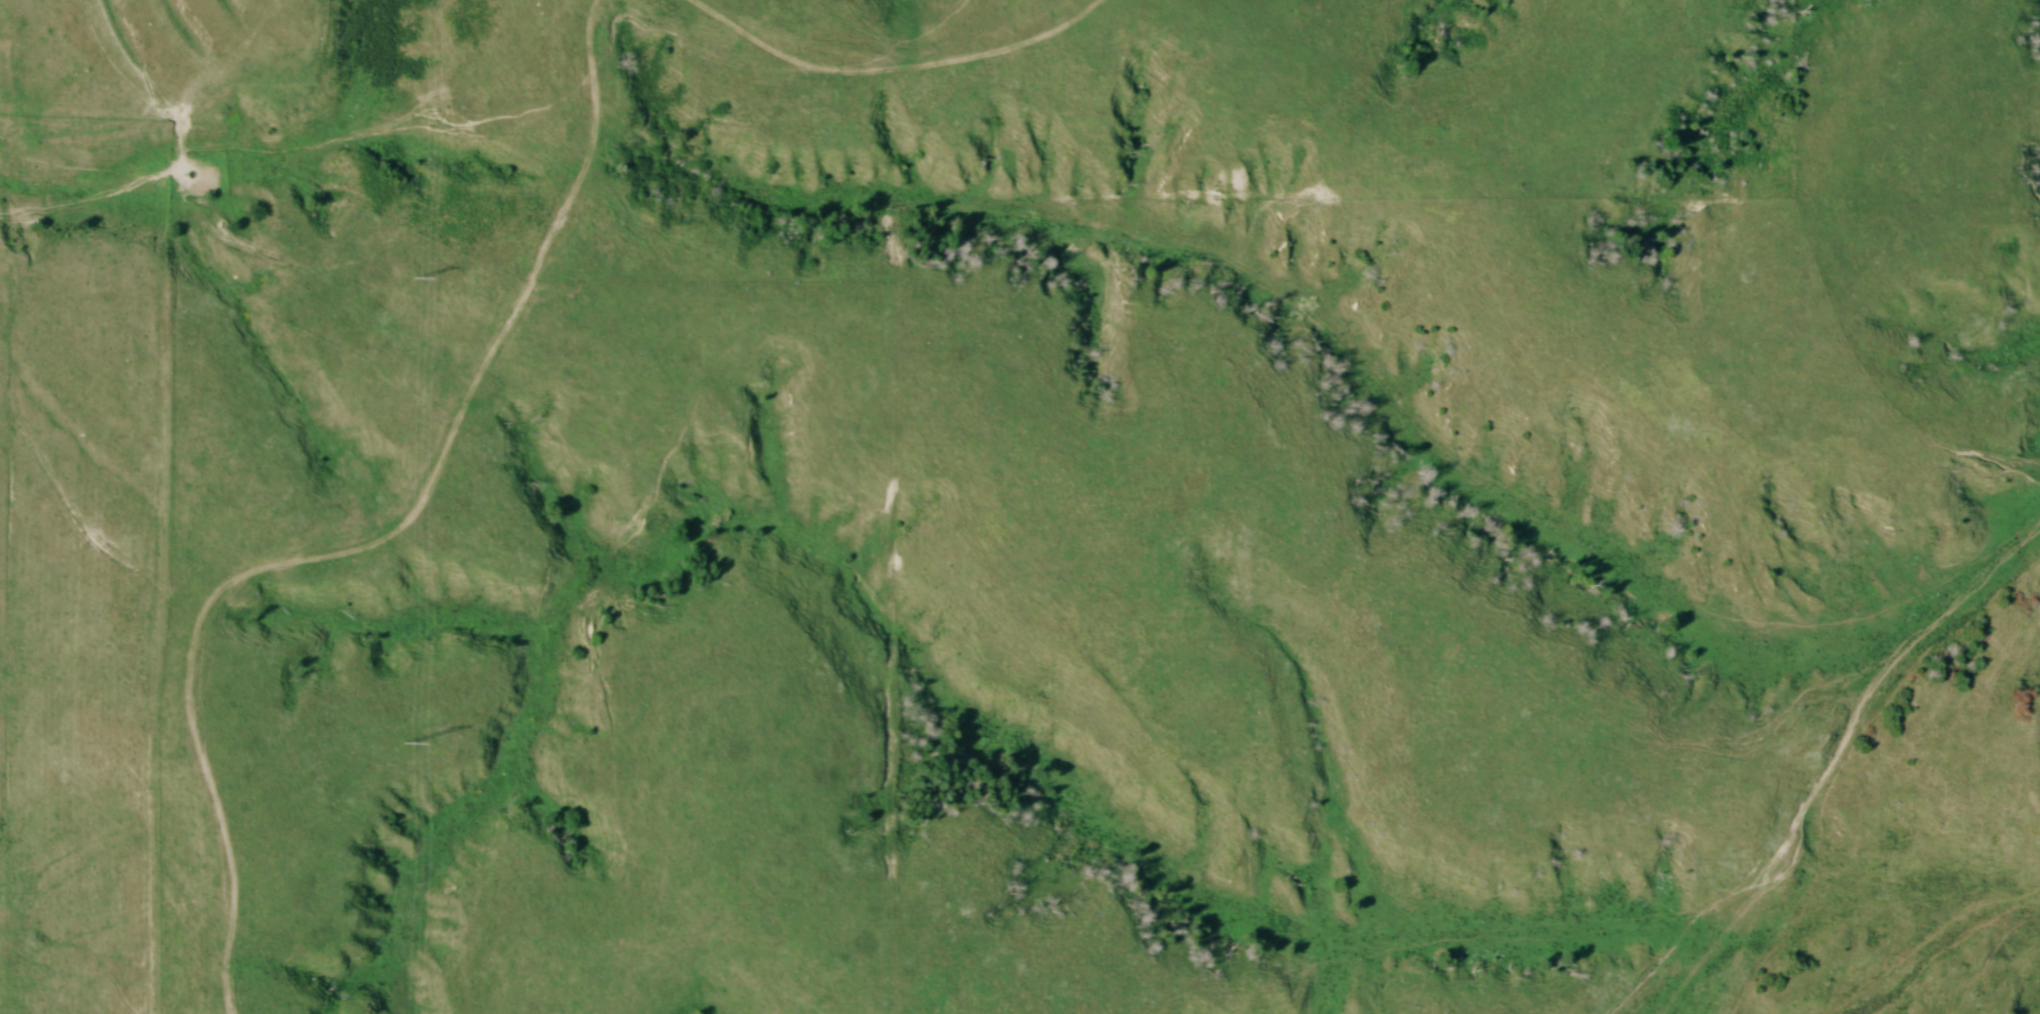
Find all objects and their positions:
power tower: (418, 281)
power tower: (404, 745)

